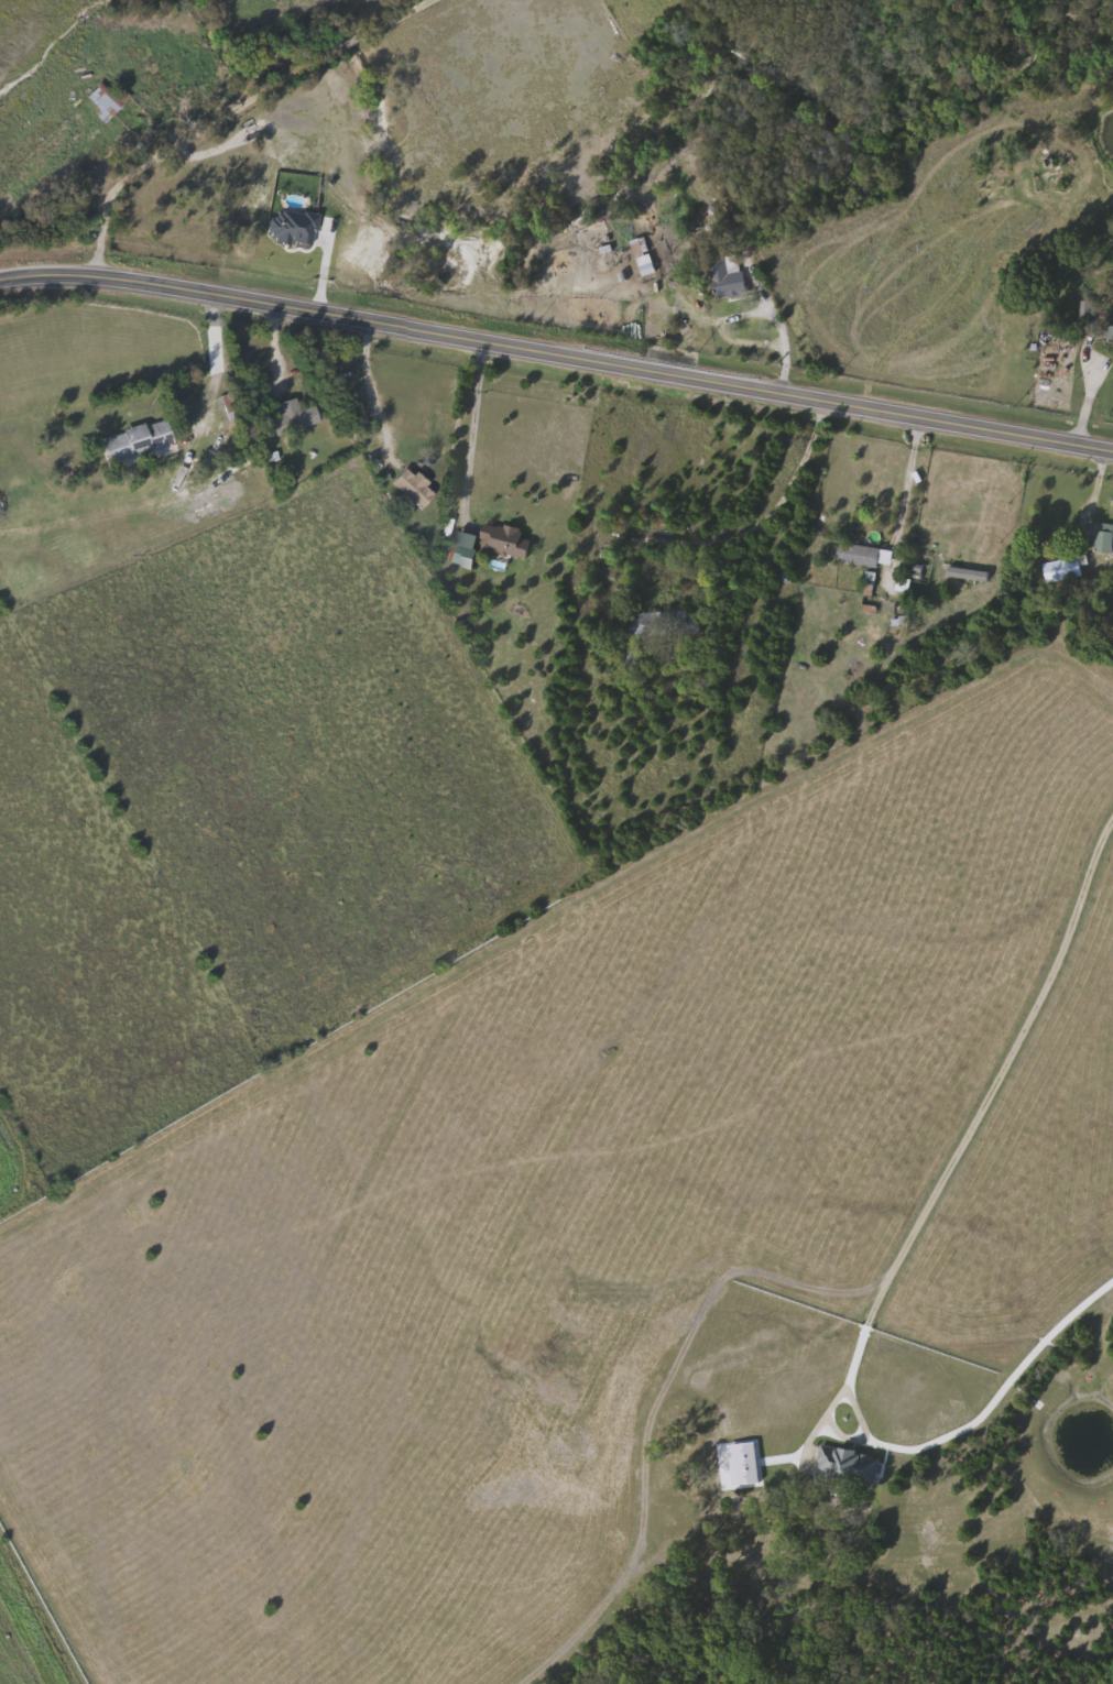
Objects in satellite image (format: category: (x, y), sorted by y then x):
building: (105, 99)
road: (233, 113)
building: (644, 253)
building: (728, 273)
road: (778, 320)
building: (1110, 331)
road: (279, 340)
road: (556, 352)
road: (221, 363)
road: (1090, 390)
road: (372, 396)
building: (292, 414)
road: (471, 422)
building: (137, 439)
road: (907, 480)
building: (412, 488)
road: (1096, 492)
building: (1104, 536)
building: (502, 538)
road: (736, 539)
building: (864, 554)
building: (1061, 567)
building: (663, 622)
road: (997, 1076)
road: (864, 1332)
road: (961, 1428)
building: (743, 1463)
building: (849, 1465)

